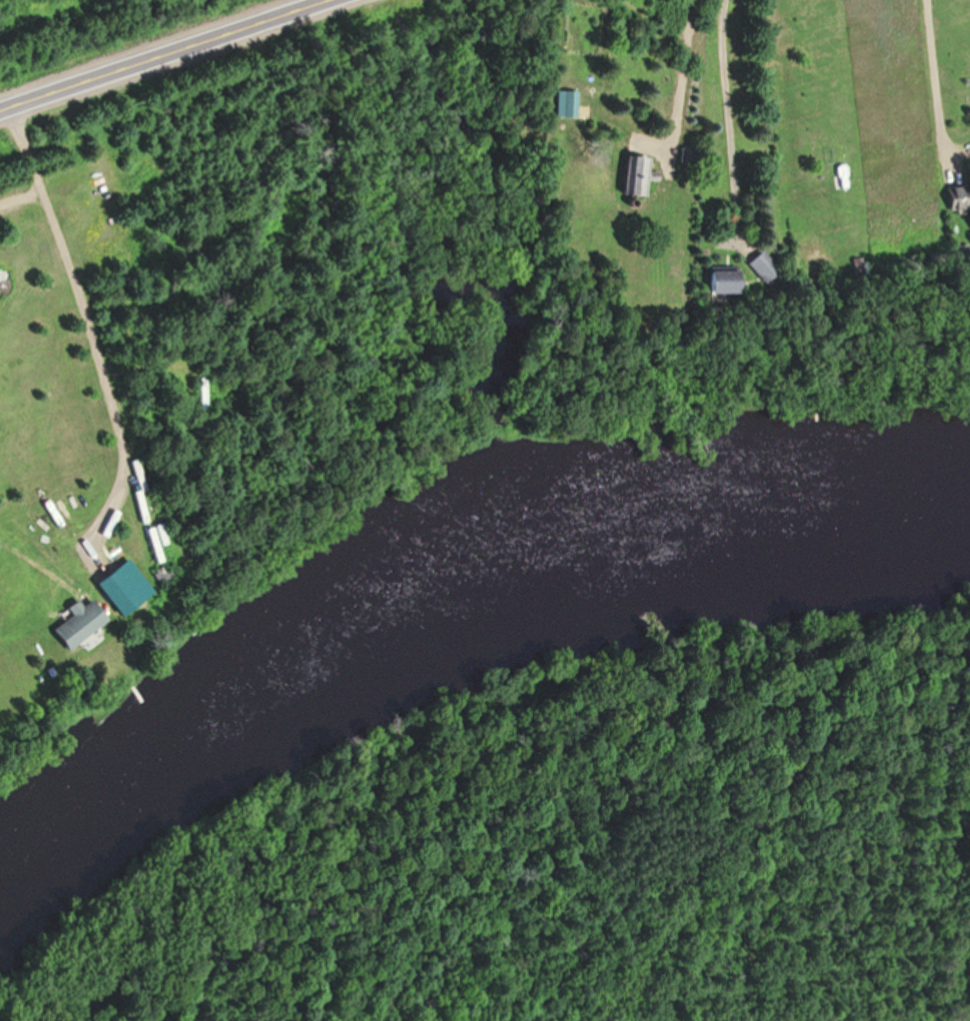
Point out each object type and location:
road: (161, 54)
building: (569, 102)
building: (637, 174)
building: (960, 196)
building: (766, 265)
building: (723, 281)
river: (430, 612)
building: (79, 622)

